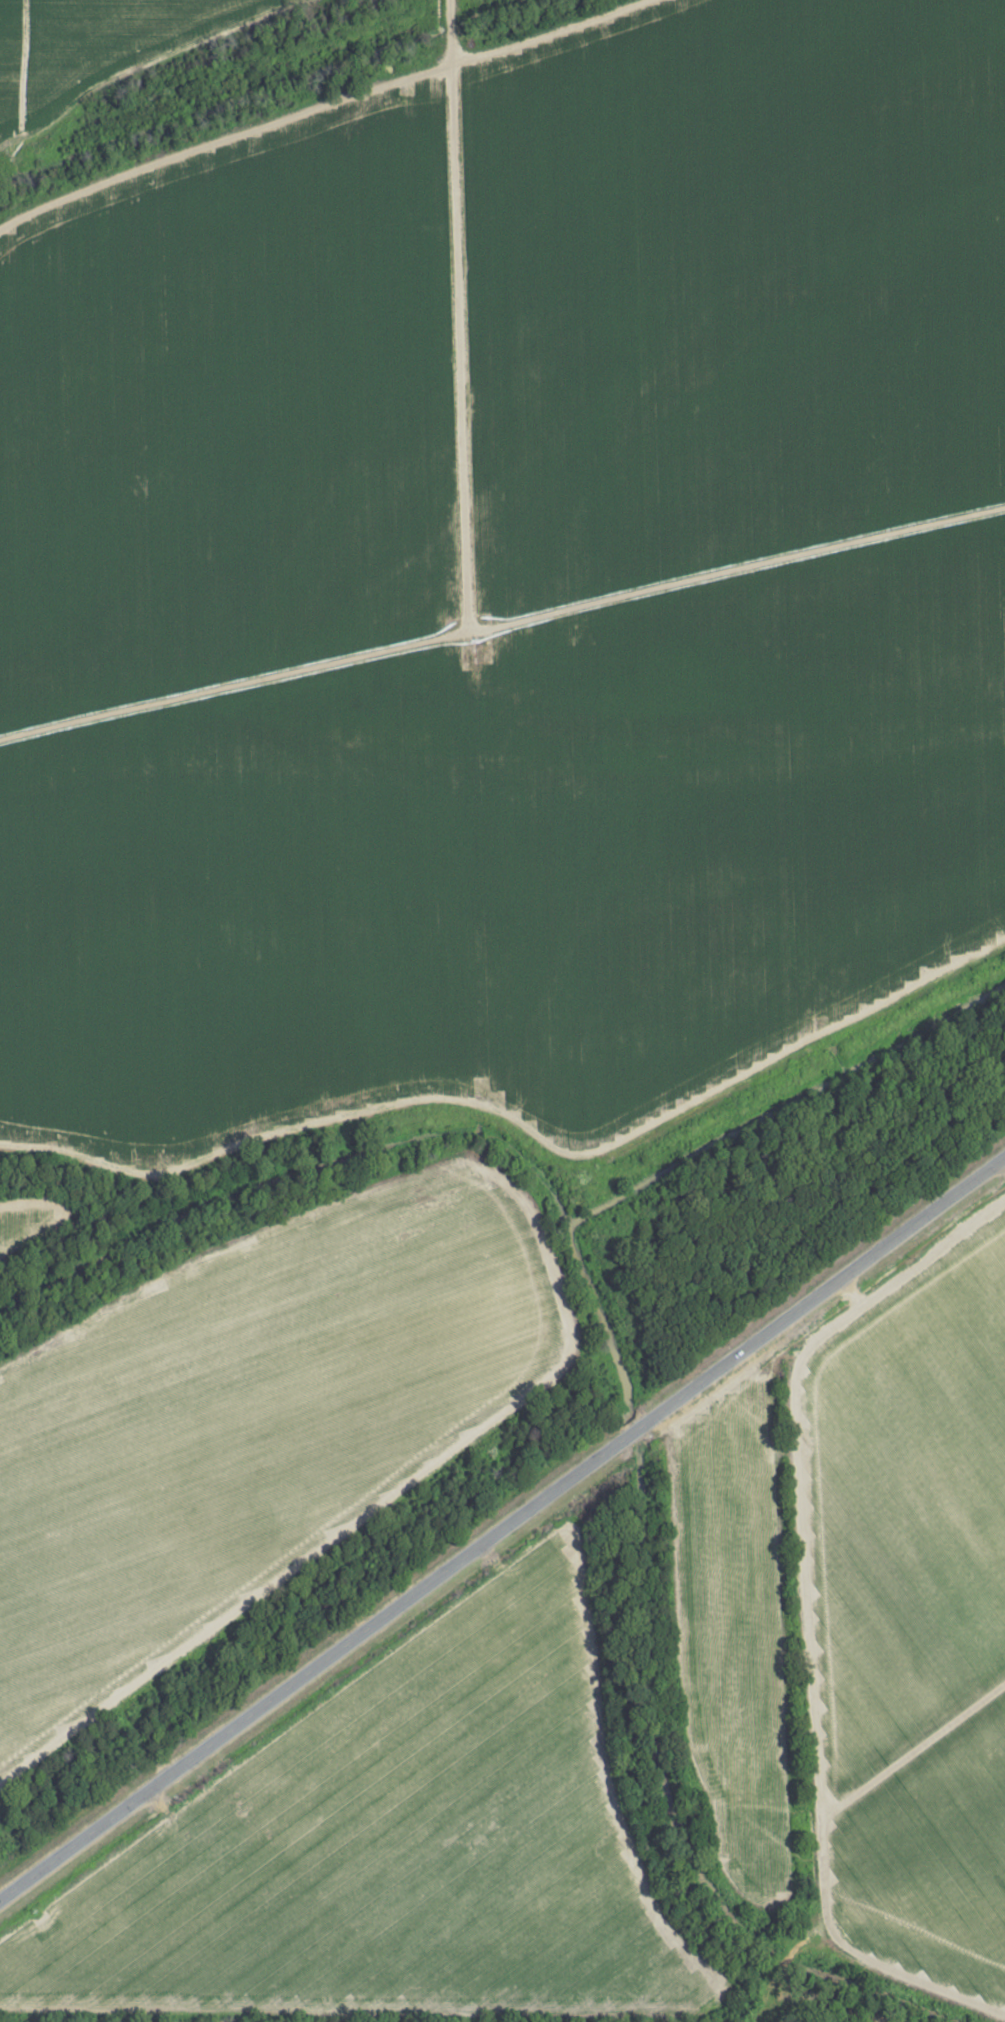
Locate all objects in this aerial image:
road: (932, 1250)
road: (500, 1528)
road: (811, 1683)

